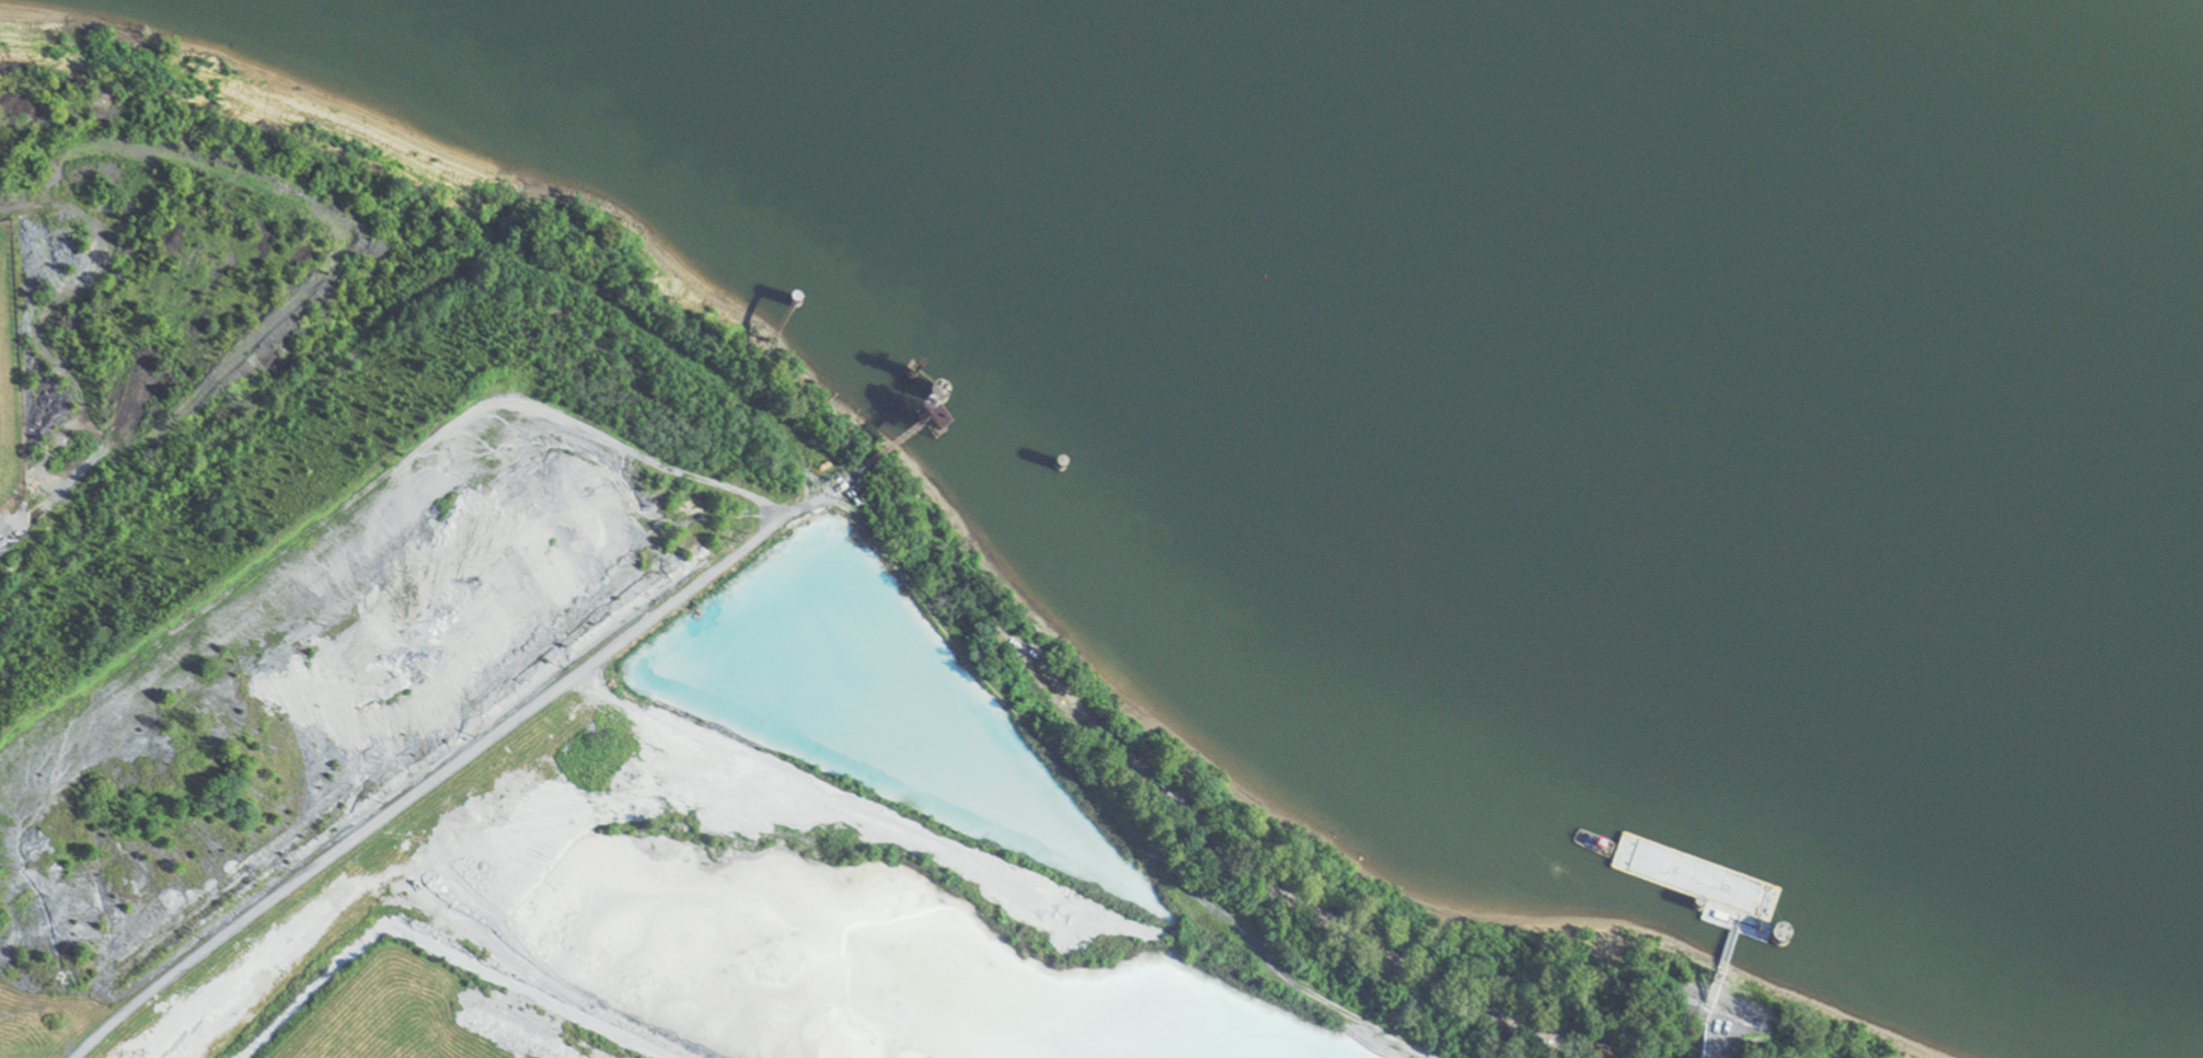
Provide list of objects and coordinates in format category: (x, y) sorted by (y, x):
river: (1668, 335)
road: (1720, 1039)

